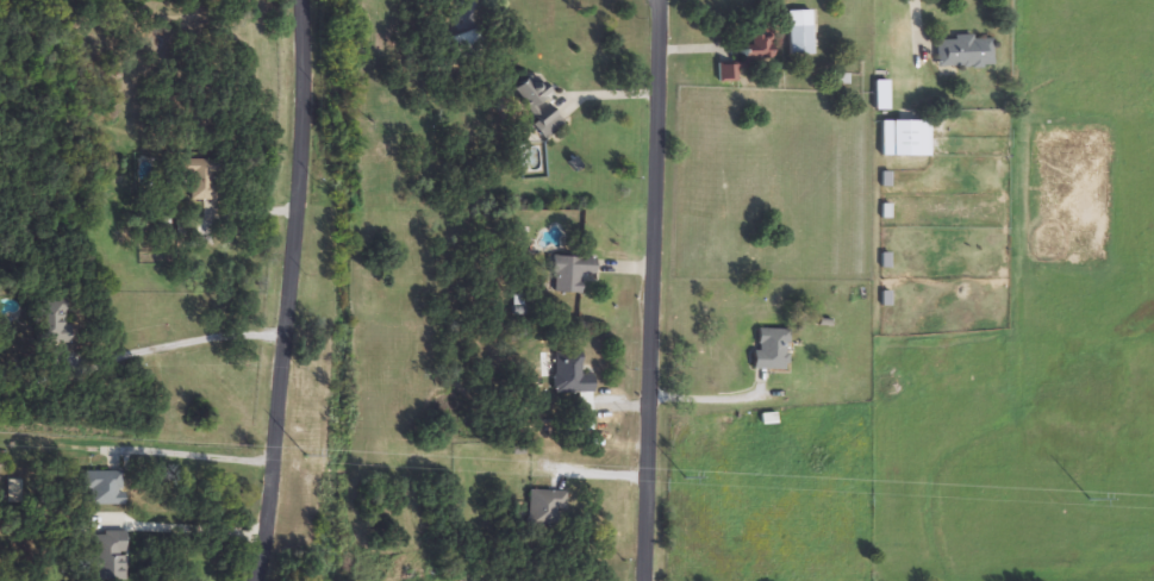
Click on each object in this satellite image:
building: (799, 40)
building: (462, 45)
building: (757, 49)
building: (963, 52)
building: (740, 64)
building: (732, 74)
building: (538, 102)
building: (386, 106)
building: (910, 139)
building: (199, 177)
building: (570, 274)
road: (286, 290)
road: (650, 290)
building: (50, 321)
road: (176, 345)
building: (771, 350)
building: (568, 375)
road: (710, 399)
building: (585, 414)
road: (180, 455)
power tower: (301, 455)
power tower: (686, 475)
building: (104, 487)
power tower: (1087, 494)
building: (545, 507)
road: (179, 529)
building: (110, 556)

